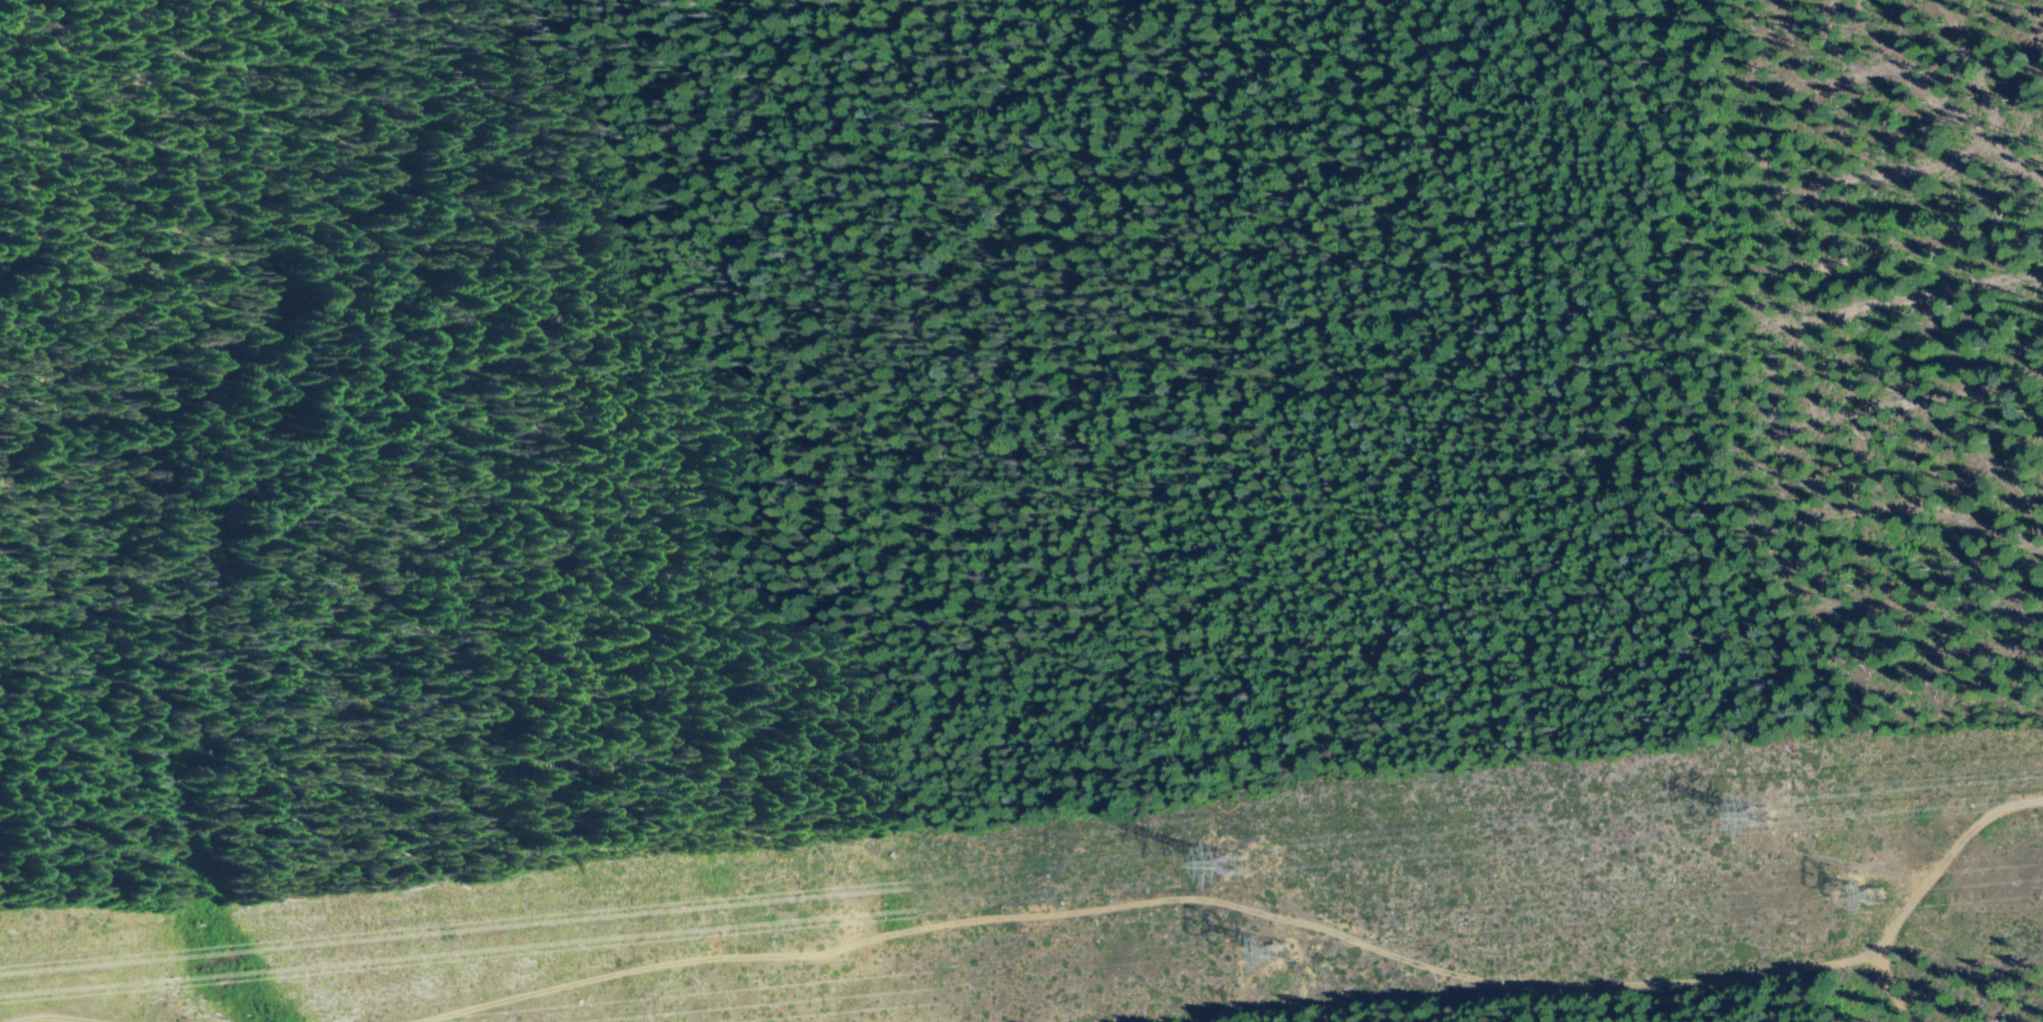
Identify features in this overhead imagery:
power tower: (1768, 807)
power tower: (1240, 855)
power tower: (1874, 891)
road: (1260, 915)
power tower: (1280, 944)
road: (37, 1019)

